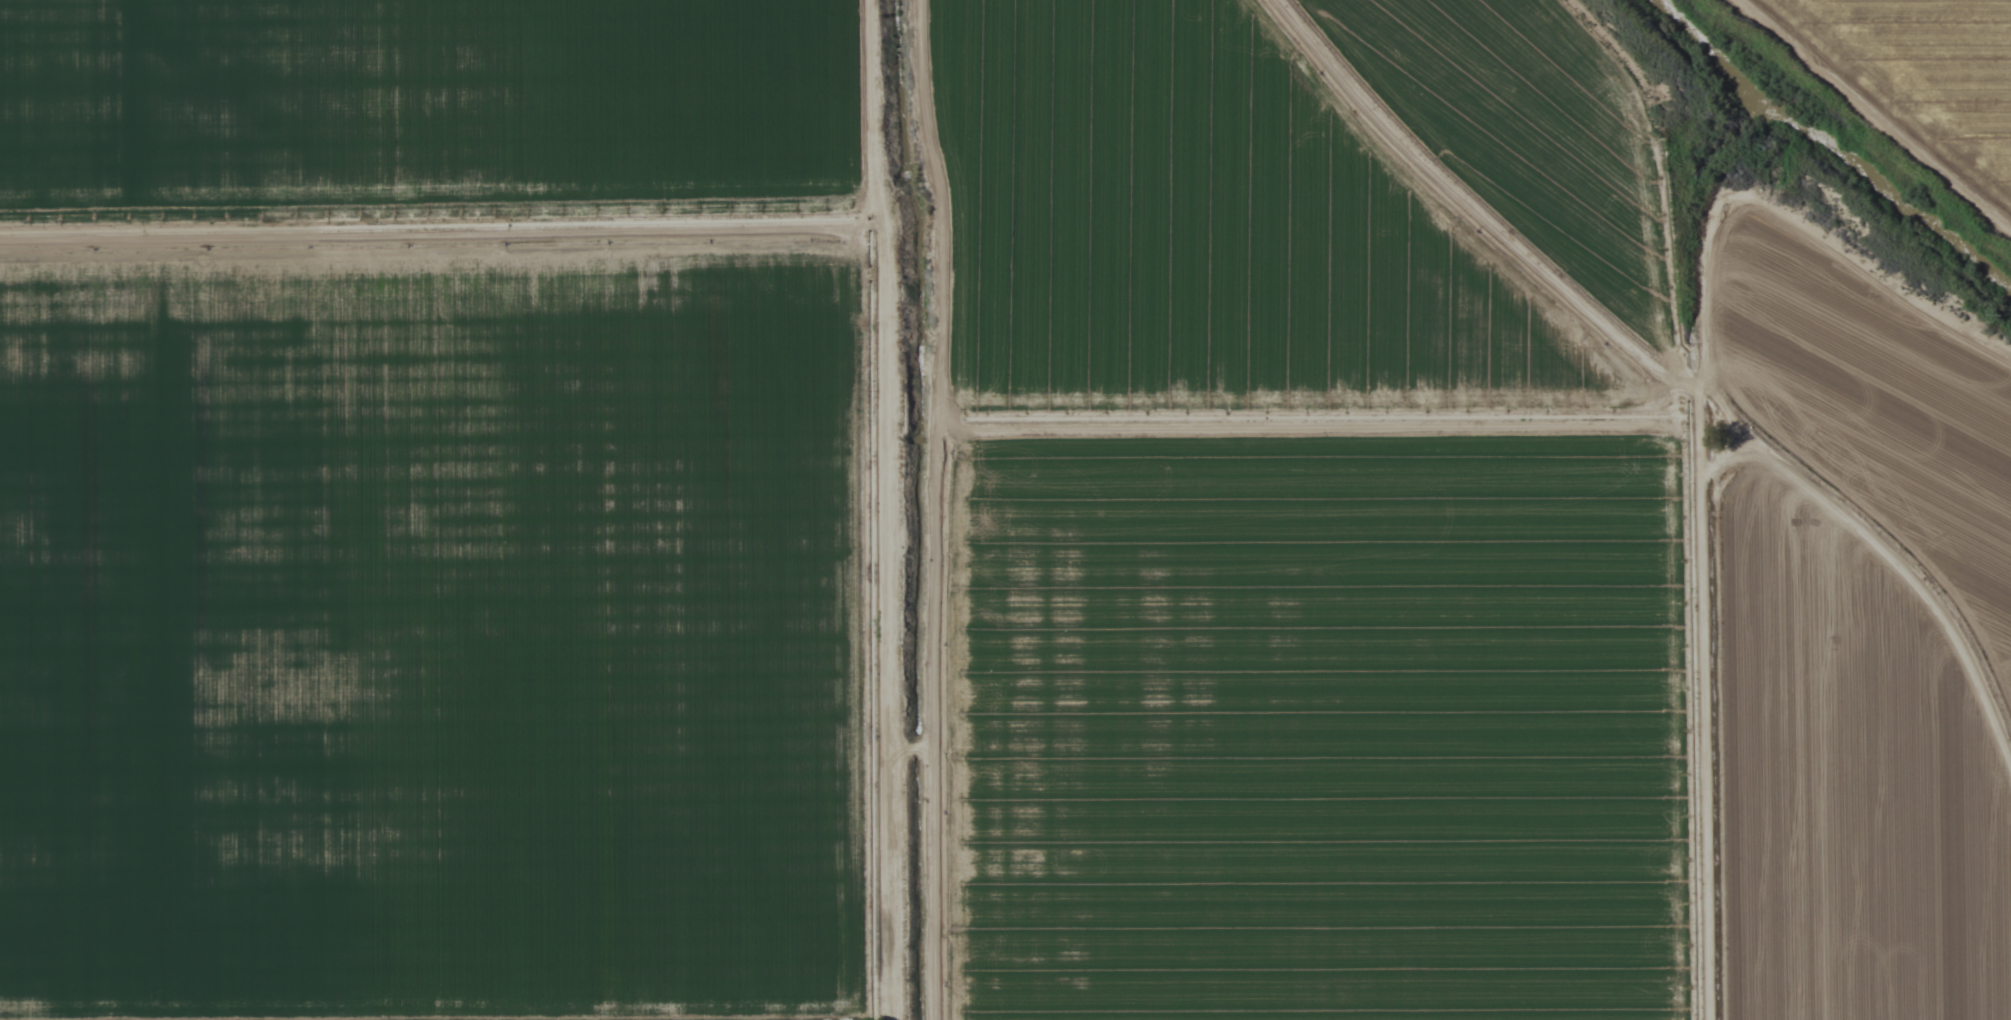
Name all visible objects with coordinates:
river: (1831, 148)
road: (442, 232)
road: (890, 509)

